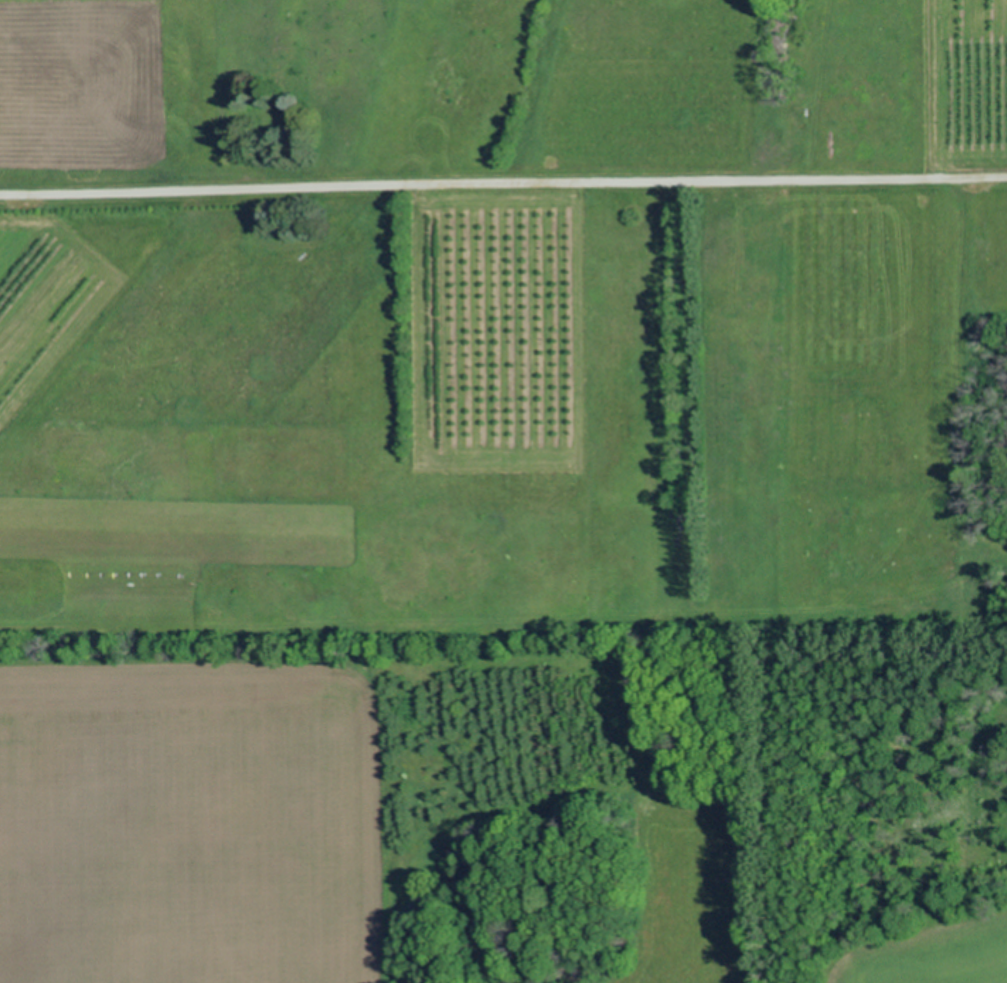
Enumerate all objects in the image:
crop: (502, 330)

